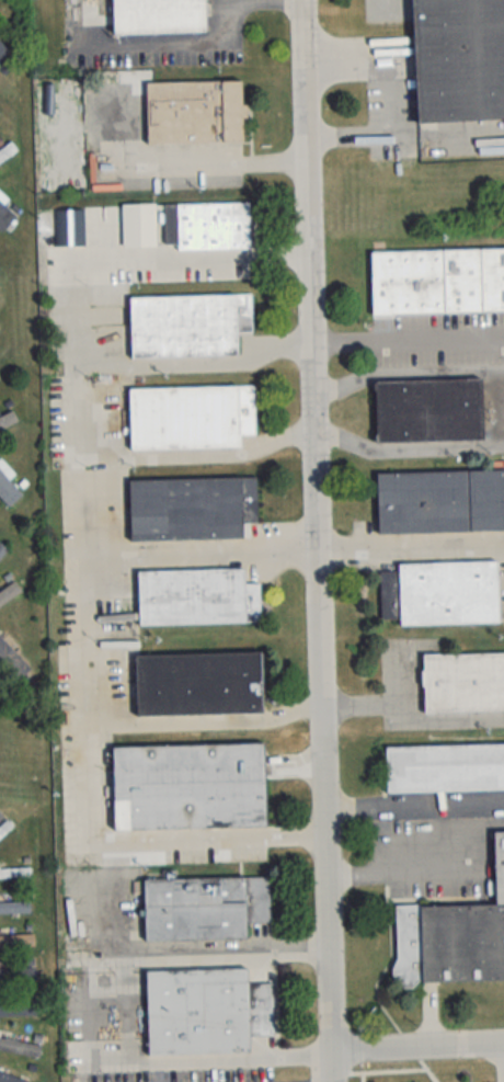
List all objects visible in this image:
building: (156, 15)
road: (168, 42)
building: (461, 55)
building: (7, 59)
building: (192, 113)
road: (397, 119)
road: (351, 134)
building: (8, 150)
road: (216, 166)
building: (3, 219)
building: (184, 226)
building: (439, 281)
building: (192, 322)
road: (406, 339)
road: (193, 358)
road: (405, 371)
building: (0, 377)
building: (433, 410)
building: (192, 414)
building: (9, 419)
road: (406, 449)
road: (195, 452)
building: (9, 490)
building: (442, 501)
building: (194, 505)
road: (76, 526)
road: (317, 540)
road: (410, 540)
road: (196, 544)
building: (2, 550)
building: (444, 591)
building: (8, 593)
building: (199, 596)
building: (15, 662)
building: (466, 680)
building: (202, 682)
road: (401, 719)
road: (203, 720)
building: (446, 768)
building: (194, 786)
road: (414, 805)
road: (485, 827)
building: (5, 829)
road: (220, 836)
road: (401, 862)
building: (15, 872)
building: (15, 907)
building: (207, 907)
building: (453, 936)
building: (16, 941)
road: (222, 953)
road: (127, 960)
building: (18, 977)
road: (128, 999)
road: (85, 1000)
building: (20, 1010)
building: (209, 1010)
road: (429, 1017)
road: (417, 1044)
road: (130, 1046)
building: (20, 1048)
road: (195, 1056)
building: (10, 1078)

